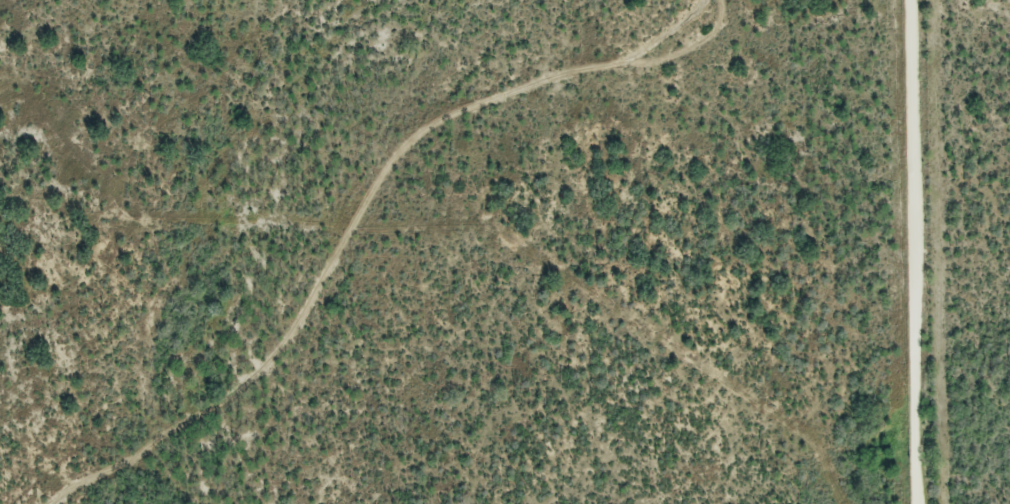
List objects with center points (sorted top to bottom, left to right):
road: (916, 252)

